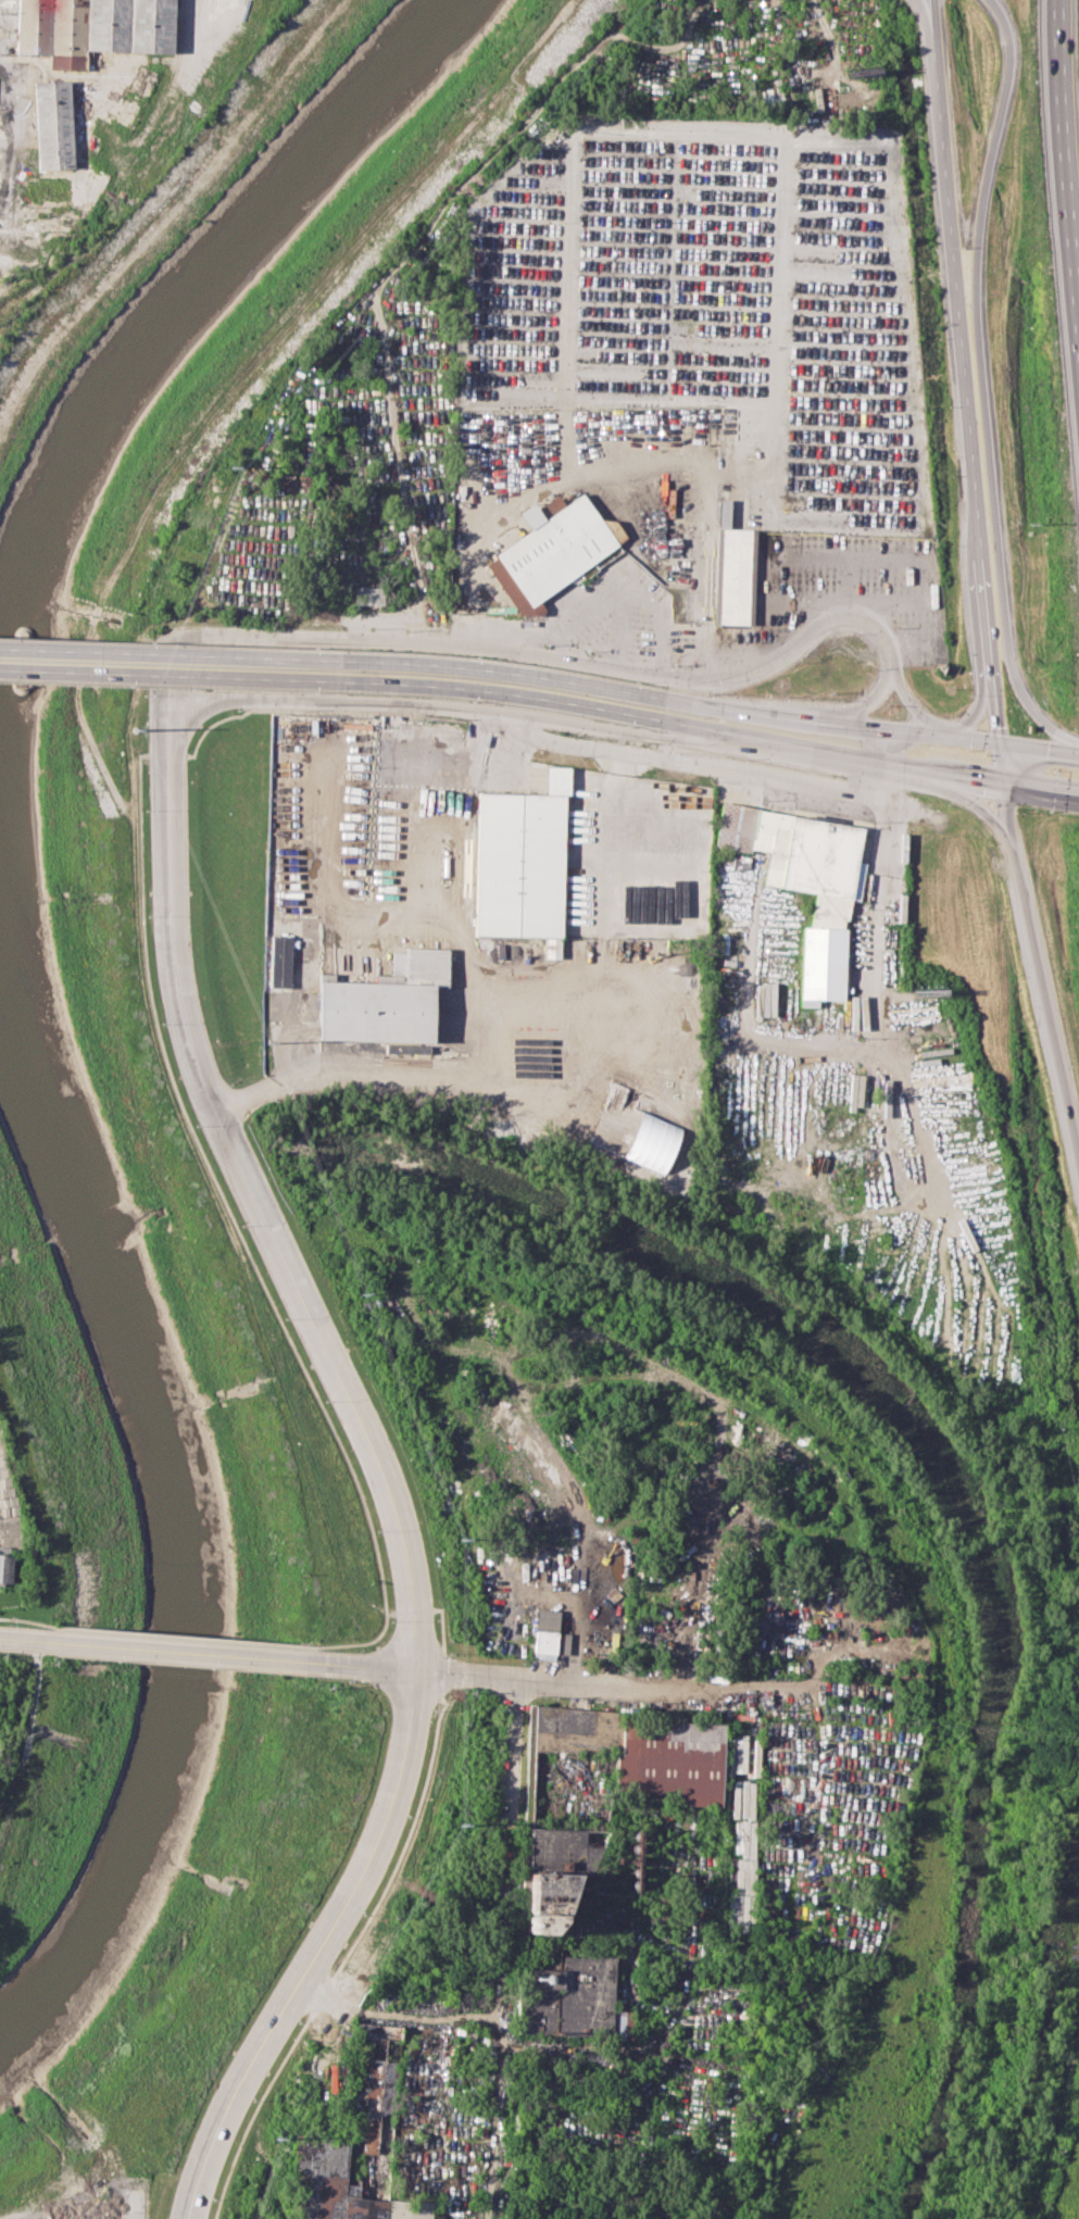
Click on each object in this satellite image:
building: (97, 28)
road: (925, 30)
road: (932, 30)
building: (54, 126)
road: (694, 126)
road: (1069, 135)
power tower: (467, 204)
river: (175, 318)
road: (982, 383)
road: (967, 406)
power tower: (229, 464)
road: (682, 465)
building: (553, 548)
road: (808, 556)
road: (851, 559)
building: (733, 567)
road: (622, 586)
building: (371, 594)
road: (336, 653)
road: (524, 654)
road: (335, 678)
road: (914, 704)
road: (860, 707)
road: (978, 714)
road: (531, 718)
road: (837, 726)
power tower: (137, 729)
road: (837, 755)
road: (1041, 755)
building: (390, 789)
road: (1043, 789)
road: (984, 810)
building: (520, 860)
building: (806, 881)
road: (315, 882)
road: (883, 939)
road: (1034, 958)
building: (365, 993)
road: (484, 1021)
power tower: (264, 1040)
road: (580, 1082)
building: (649, 1141)
road: (253, 1198)
power tower: (354, 1287)
road: (610, 1374)
river: (171, 1508)
power tower: (461, 1535)
building: (5, 1564)
road: (22, 1639)
building: (547, 1641)
building: (562, 1643)
road: (178, 1651)
road: (366, 1667)
road: (560, 1682)
road: (515, 1748)
building: (640, 1751)
power tower: (461, 1826)
building: (564, 1850)
building: (544, 1901)
road: (319, 1952)
building: (570, 1998)
road: (491, 2021)
building: (376, 2103)
power tower: (269, 2140)
building: (338, 2186)

